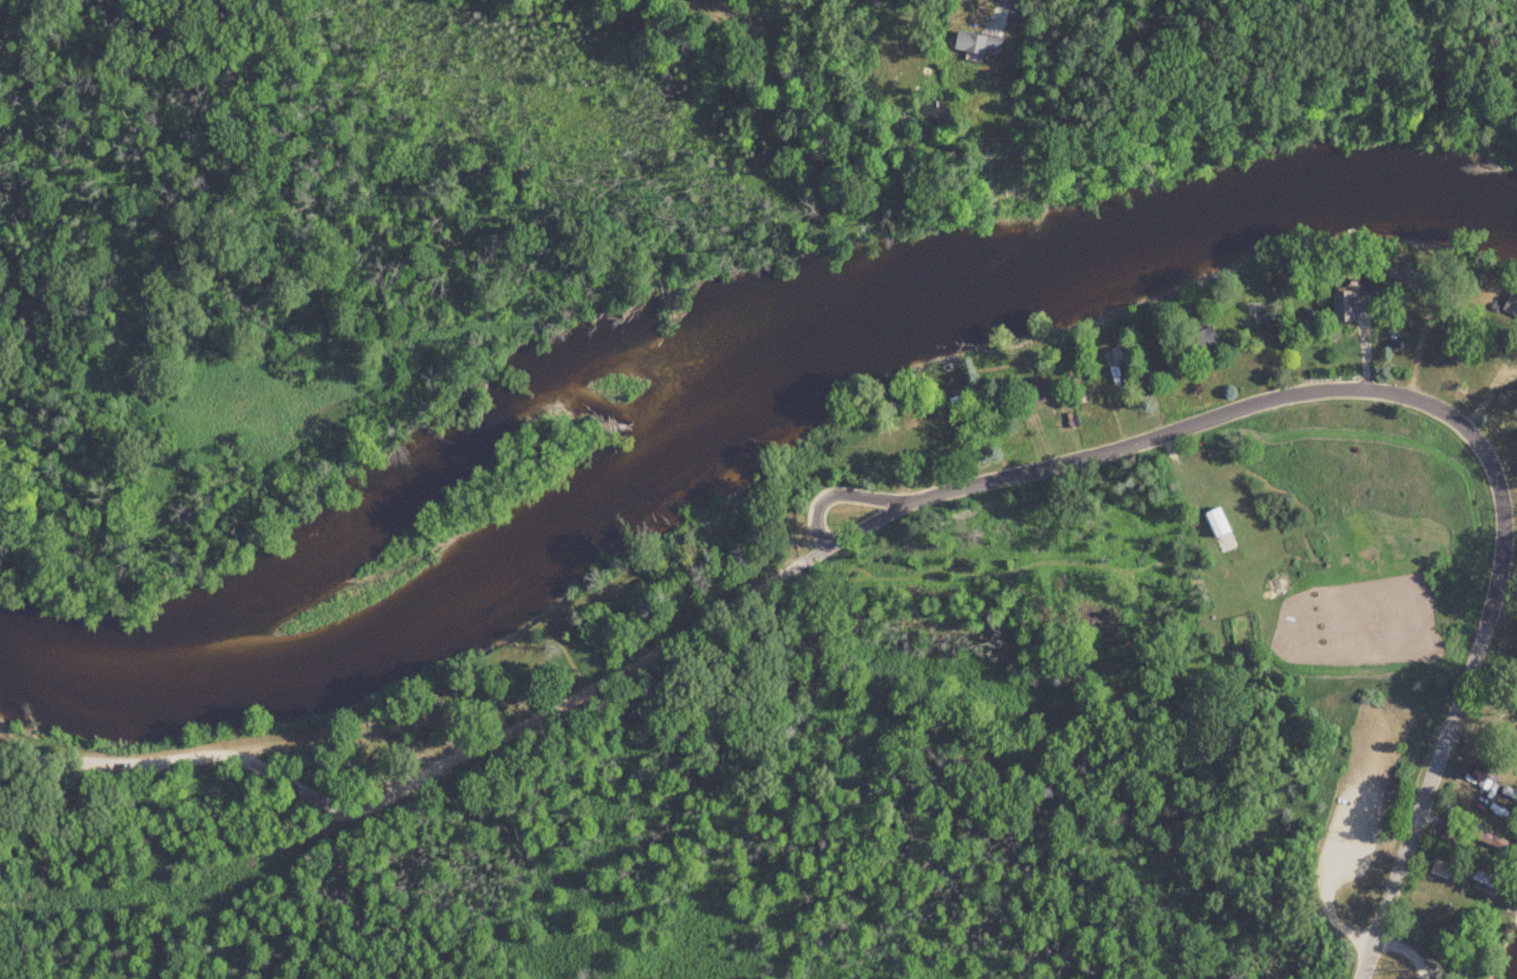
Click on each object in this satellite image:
road: (997, 13)
building: (976, 44)
building: (1349, 304)
building: (1204, 340)
building: (1111, 364)
river: (739, 401)
road: (1001, 477)
building: (1214, 524)
building: (1490, 842)
building: (1486, 882)
road: (1403, 951)

